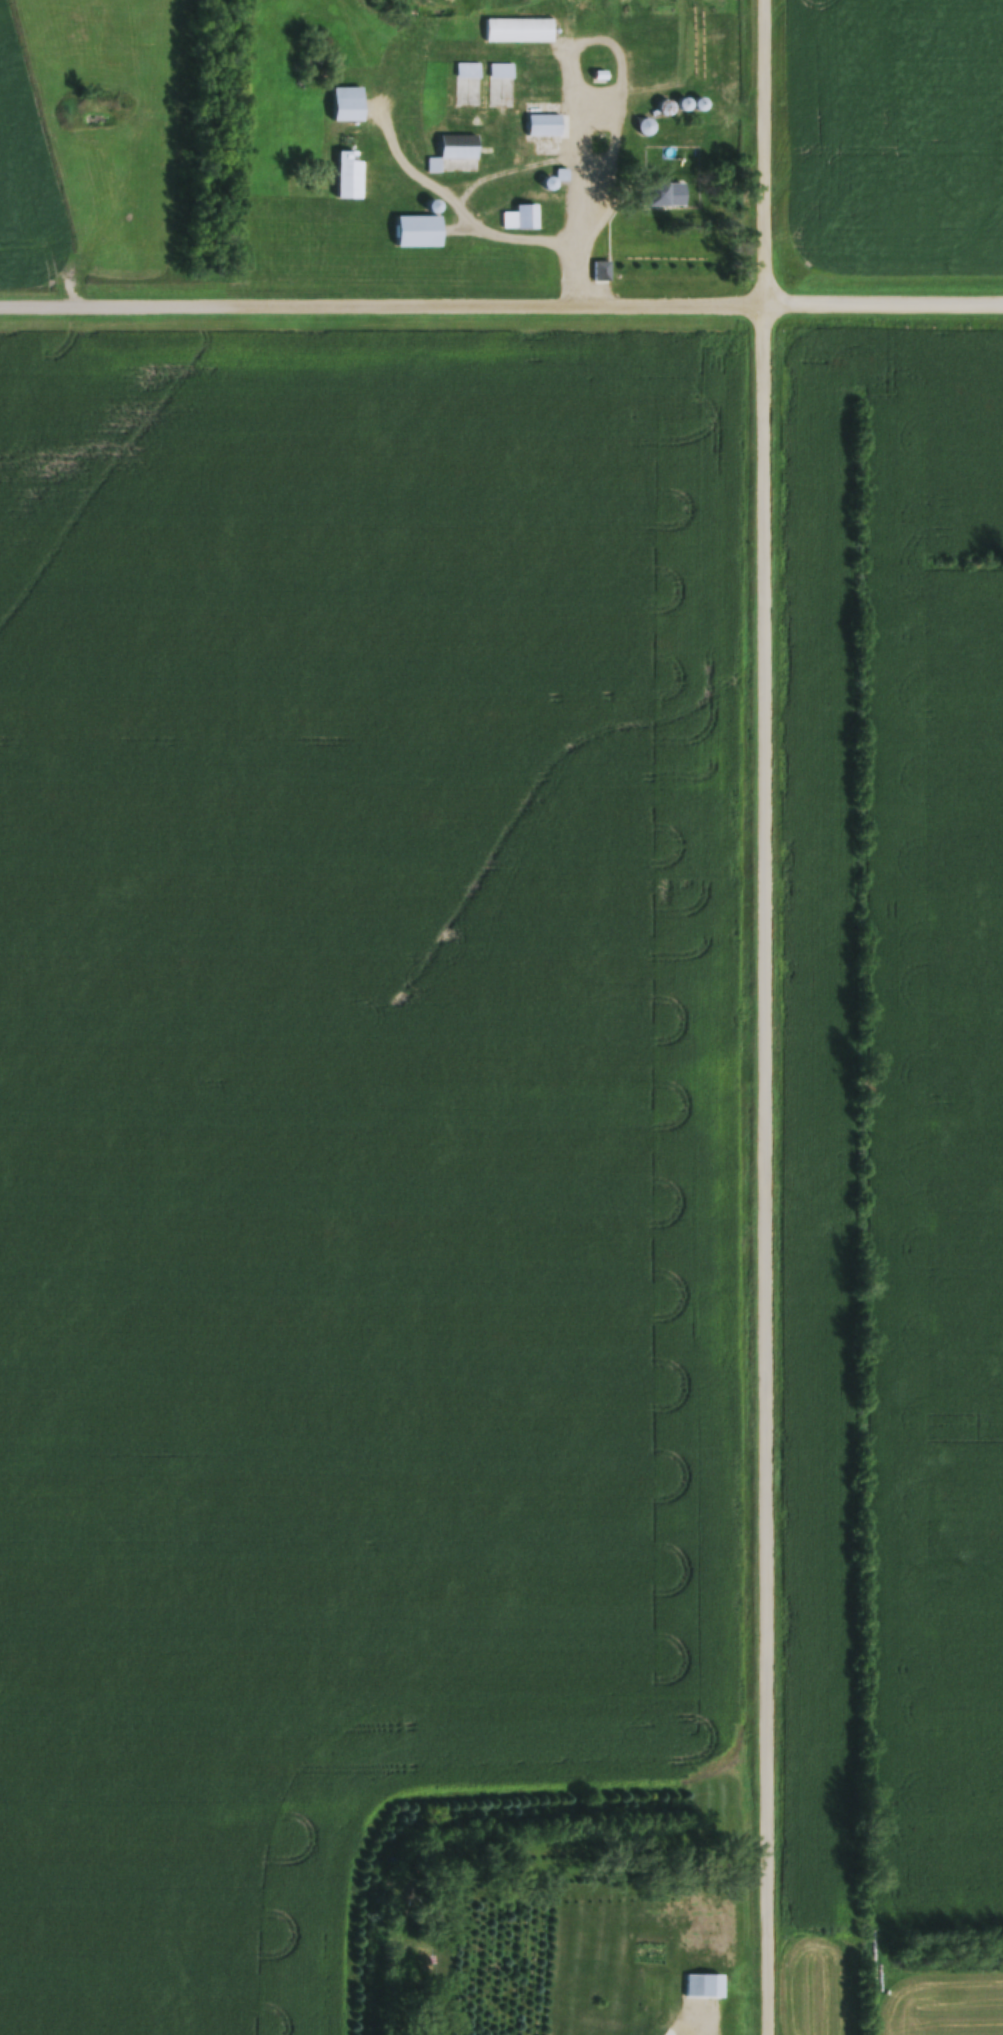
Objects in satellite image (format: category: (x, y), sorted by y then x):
building: (518, 32)
building: (657, 46)
building: (727, 60)
building: (599, 64)
building: (469, 72)
building: (501, 72)
building: (348, 105)
building: (545, 127)
building: (456, 156)
building: (350, 176)
building: (669, 195)
building: (521, 218)
road: (517, 231)
building: (419, 232)
building: (603, 271)
road: (884, 301)
road: (382, 302)
road: (766, 1017)
building: (704, 1987)

